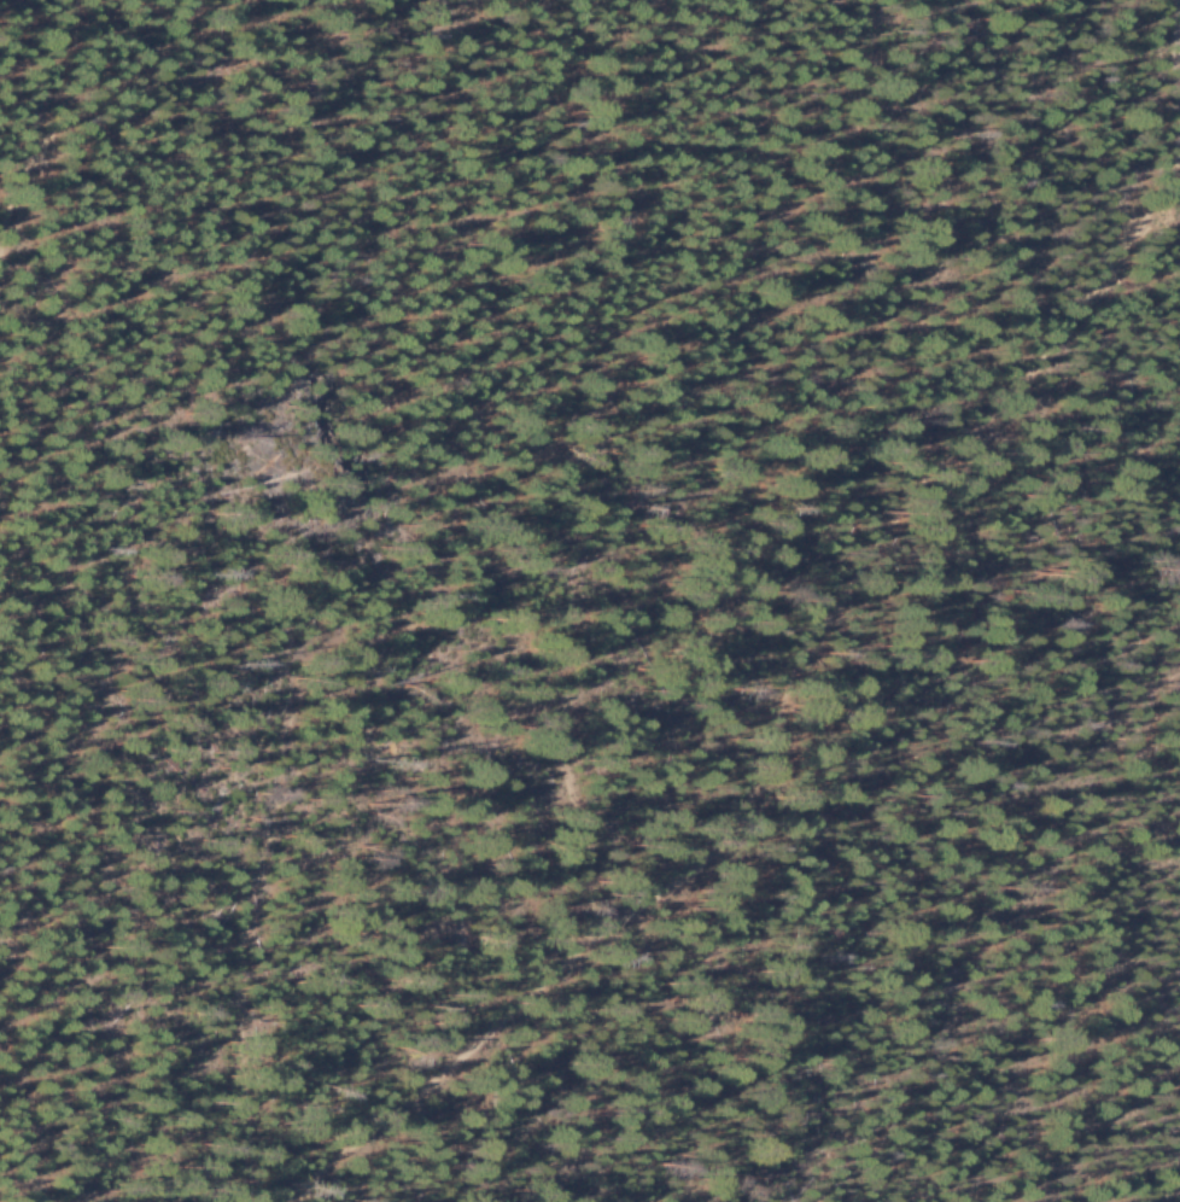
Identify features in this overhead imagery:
road: (66, 118)
road: (1168, 183)
road: (765, 746)

